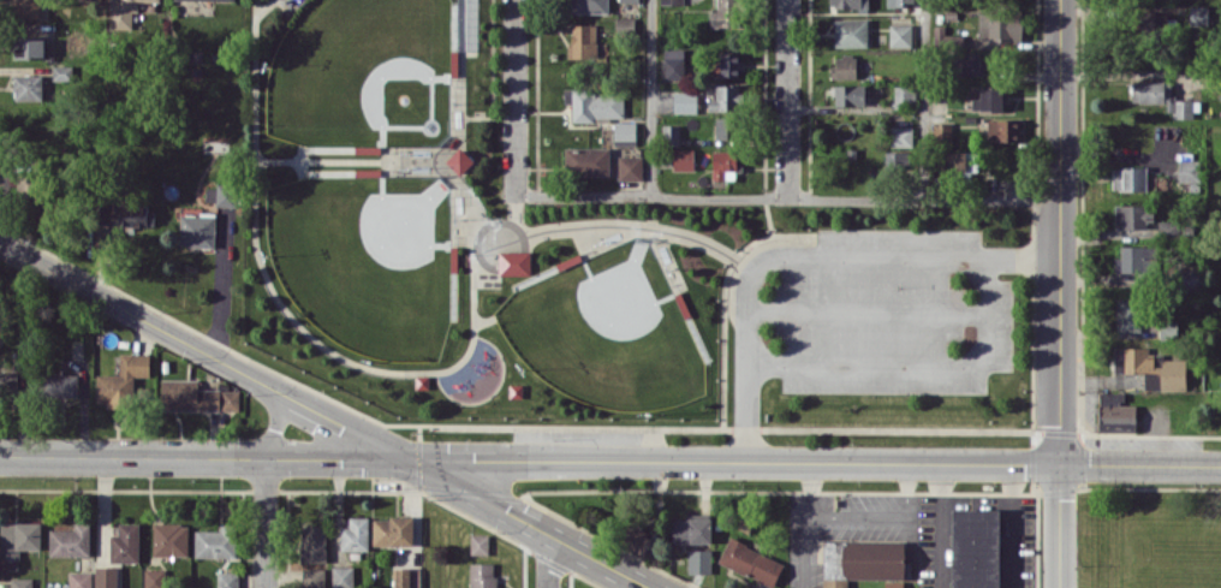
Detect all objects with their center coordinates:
building: (230, 0)
building: (629, 0)
building: (671, 1)
building: (900, 2)
building: (851, 4)
building: (589, 6)
building: (25, 8)
building: (124, 13)
building: (725, 13)
building: (1198, 14)
building: (465, 24)
building: (1000, 26)
building: (851, 31)
building: (900, 34)
building: (584, 41)
building: (29, 47)
building: (674, 63)
building: (969, 63)
building: (729, 64)
building: (844, 66)
building: (28, 87)
building: (848, 94)
building: (904, 94)
building: (1161, 96)
road: (513, 97)
road: (650, 97)
building: (725, 97)
road: (786, 99)
road: (923, 99)
building: (988, 99)
building: (685, 101)
building: (594, 103)
building: (725, 126)
building: (1003, 130)
building: (941, 131)
building: (624, 132)
building: (671, 135)
building: (901, 136)
building: (897, 158)
building: (683, 159)
building: (460, 160)
building: (586, 160)
building: (961, 162)
building: (725, 165)
building: (1187, 166)
building: (630, 167)
building: (1128, 178)
building: (220, 194)
road: (786, 196)
building: (137, 215)
building: (1133, 215)
building: (1168, 227)
building: (197, 230)
road: (806, 255)
park: (580, 257)
building: (1134, 259)
building: (514, 262)
building: (1186, 277)
road: (219, 290)
road: (1059, 293)
building: (1127, 314)
road: (915, 362)
building: (1151, 366)
building: (121, 380)
building: (8, 382)
building: (61, 385)
building: (195, 396)
building: (1115, 411)
road: (326, 415)
road: (202, 457)
traffic signals: (406, 458)
road: (814, 462)
road: (816, 512)
road: (264, 523)
road: (936, 524)
road: (1011, 525)
building: (691, 529)
building: (392, 530)
building: (355, 534)
building: (18, 537)
building: (169, 539)
building: (70, 540)
building: (215, 541)
building: (639, 541)
building: (125, 542)
building: (312, 544)
building: (480, 544)
building: (975, 547)
road: (546, 560)
building: (699, 560)
building: (862, 560)
building: (751, 562)
building: (482, 575)
building: (106, 576)
building: (343, 576)
building: (154, 577)
building: (312, 577)
building: (406, 577)
building: (79, 580)
building: (227, 580)
building: (20, 582)
building: (893, 584)

